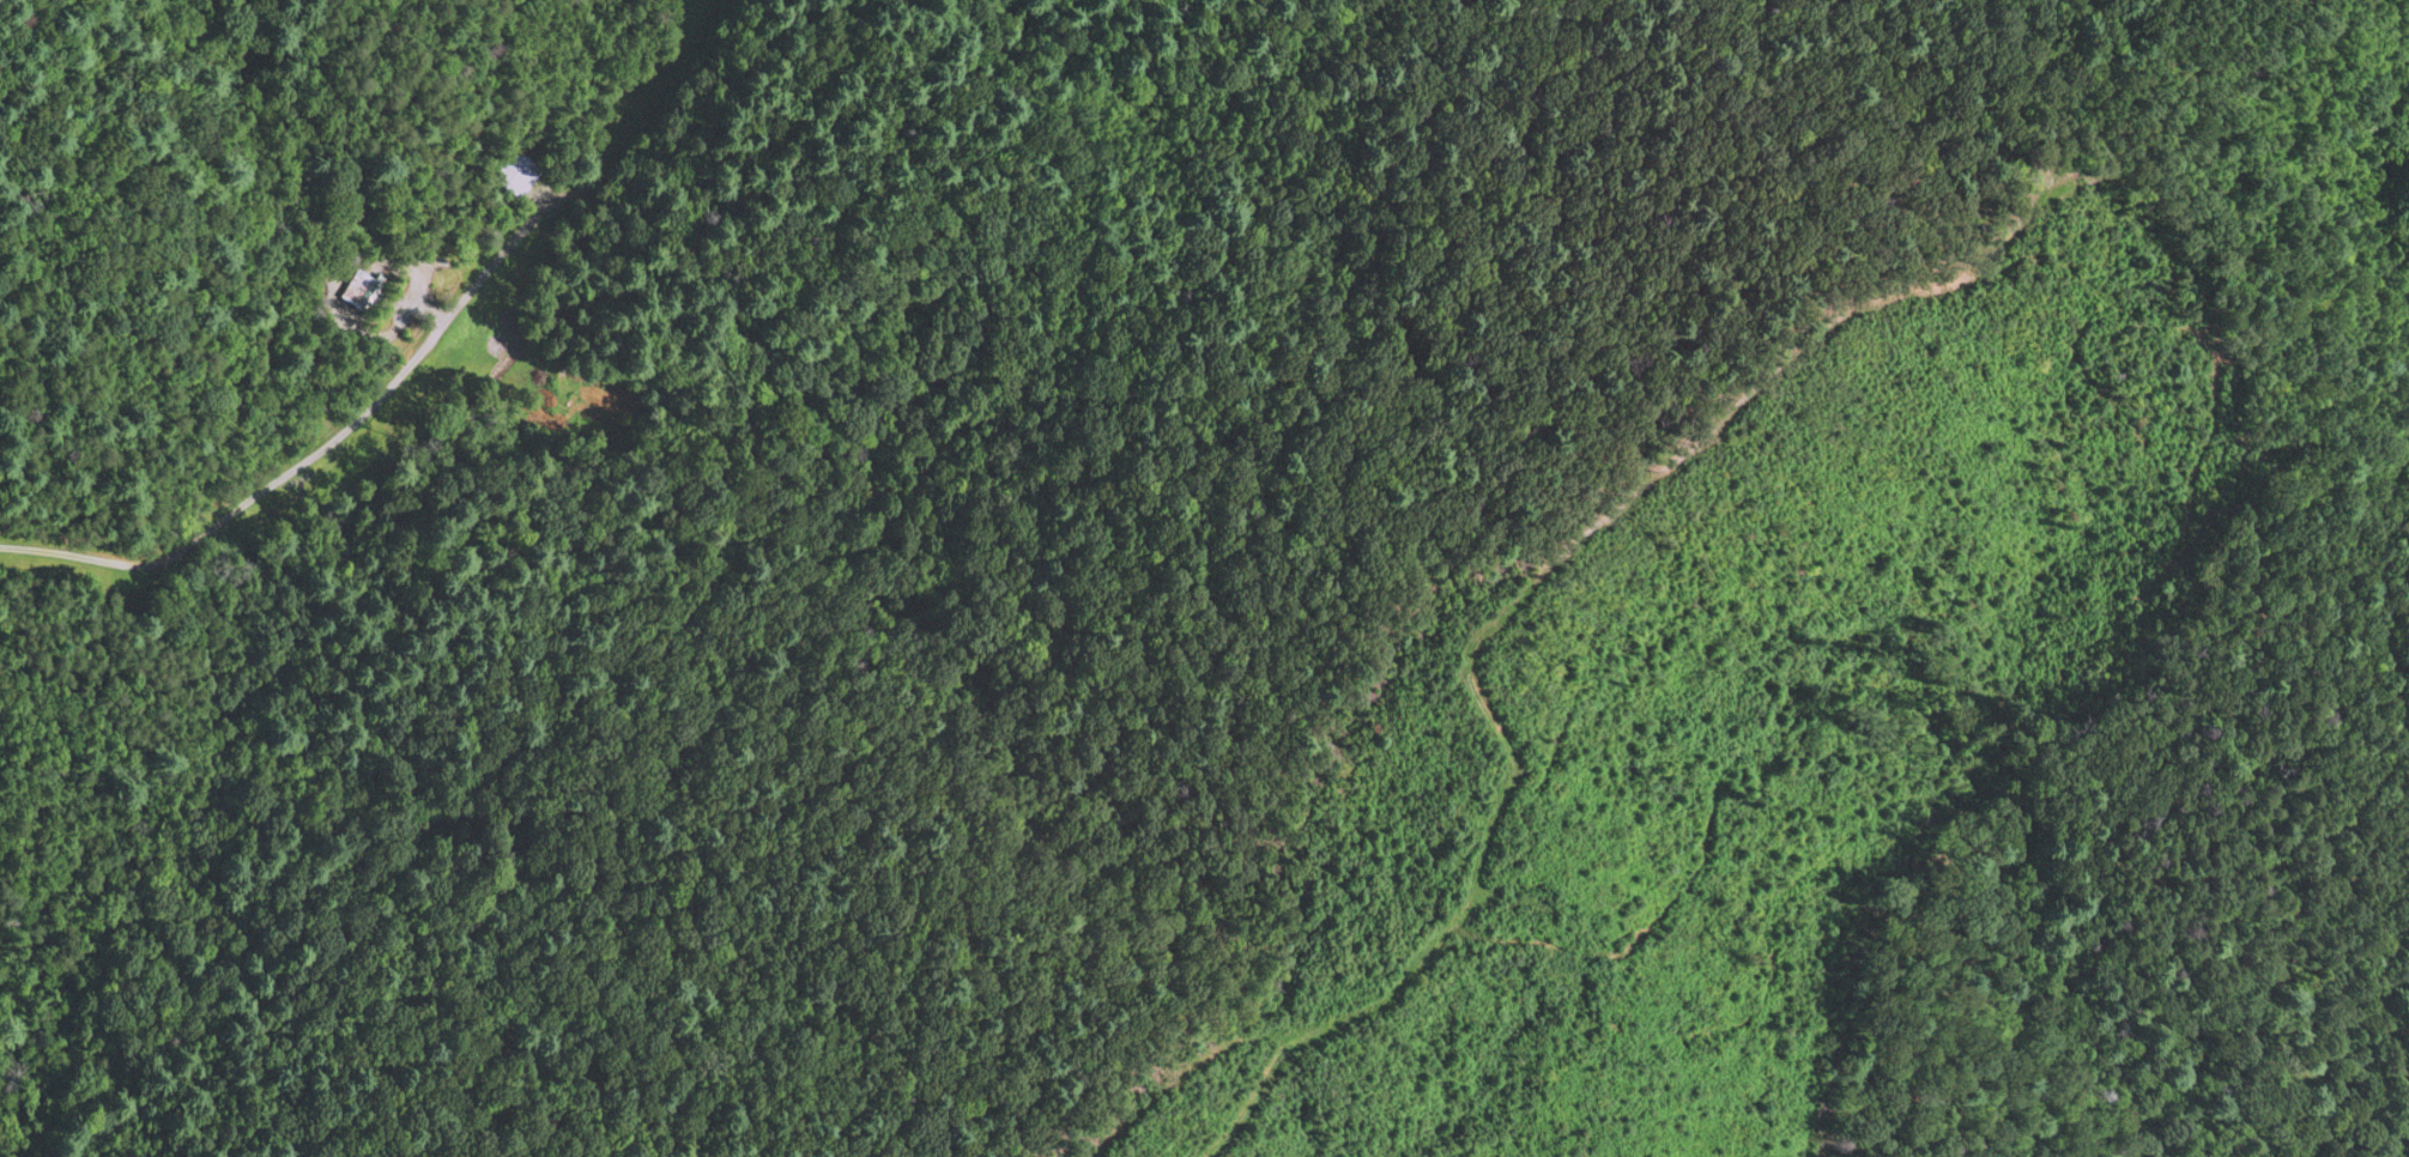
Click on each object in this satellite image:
building: (514, 175)
building: (358, 292)
park: (2289, 588)

